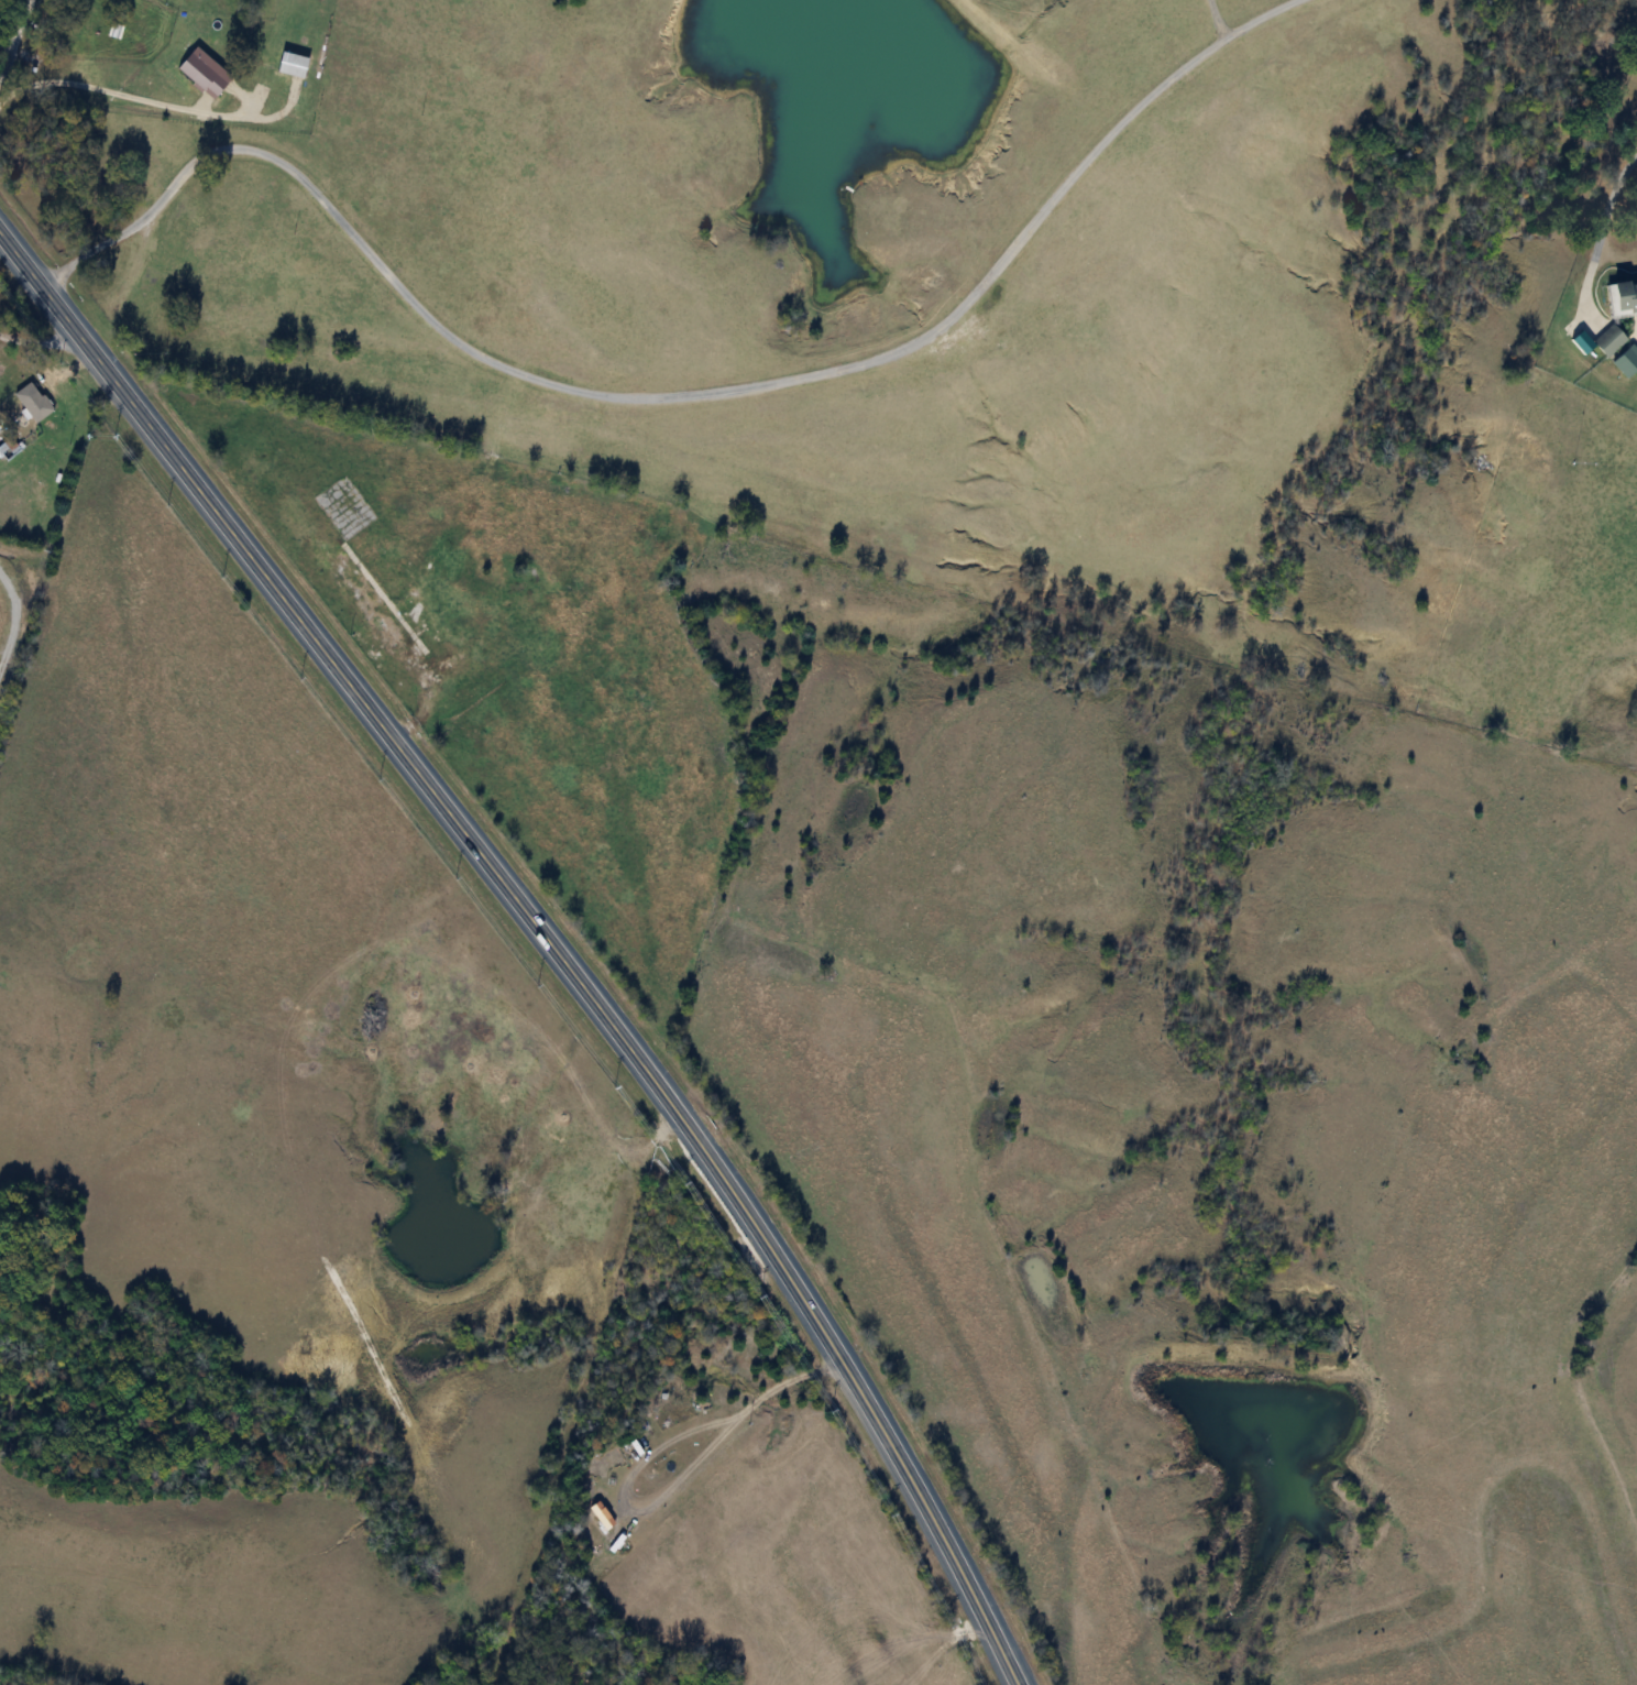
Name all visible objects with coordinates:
road: (1219, 20)
road: (14, 43)
road: (114, 90)
road: (1602, 225)
building: (1616, 315)
road: (45, 341)
road: (671, 394)
building: (31, 401)
building: (7, 449)
building: (34, 491)
building: (343, 508)
road: (15, 617)
road: (543, 935)

